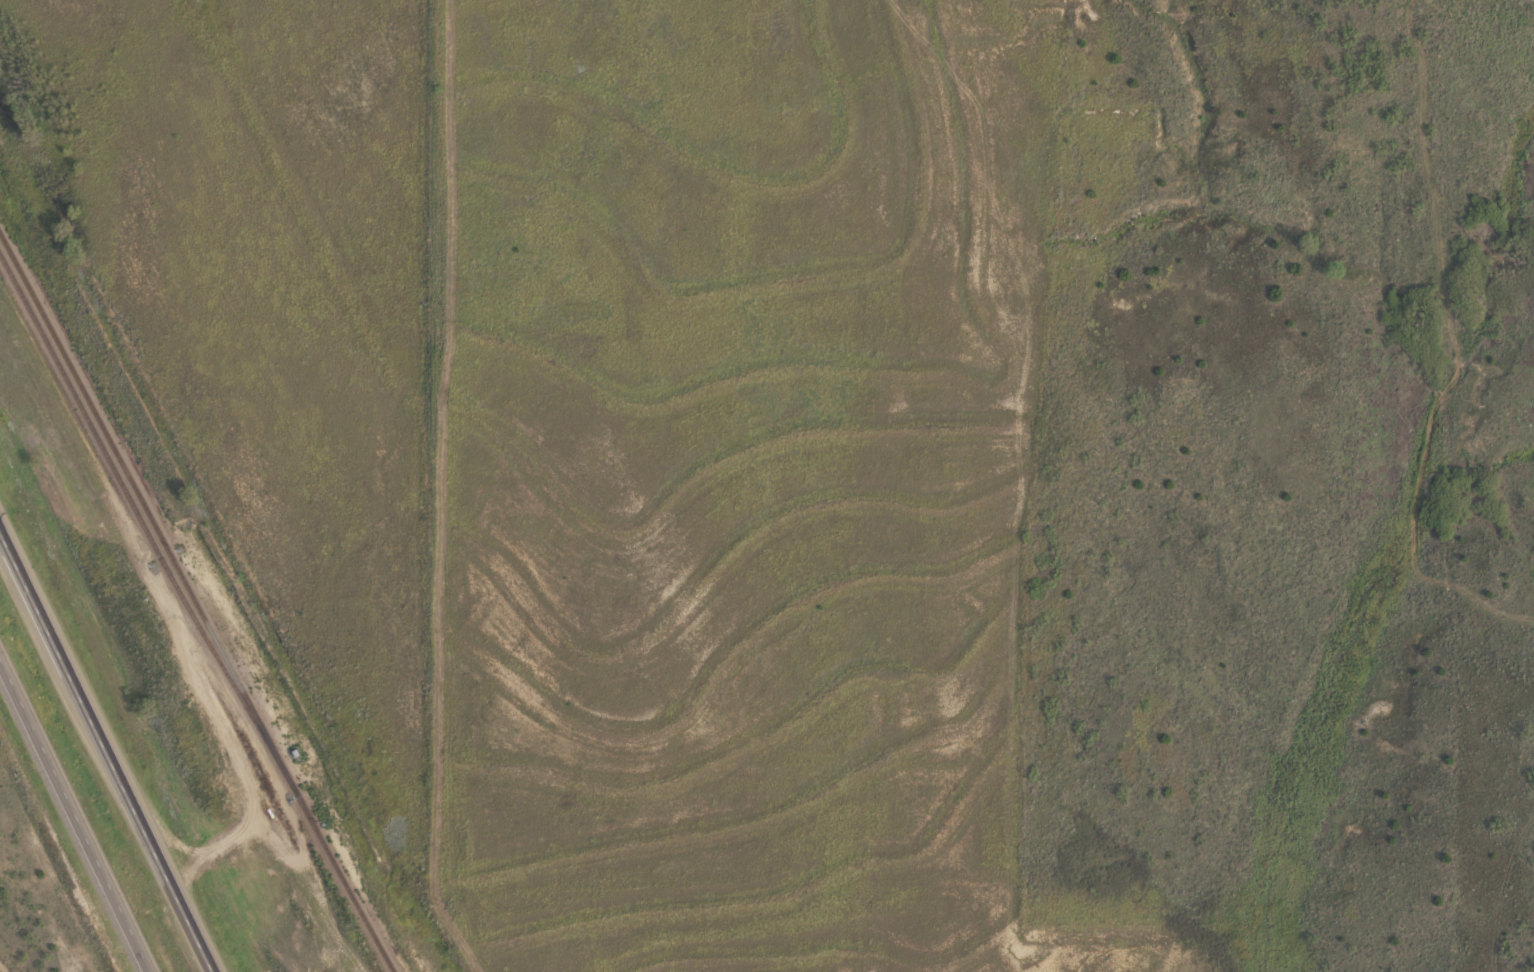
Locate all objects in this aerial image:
railway: (125, 496)
road: (2, 521)
railway: (195, 603)
road: (111, 741)
road: (78, 812)

